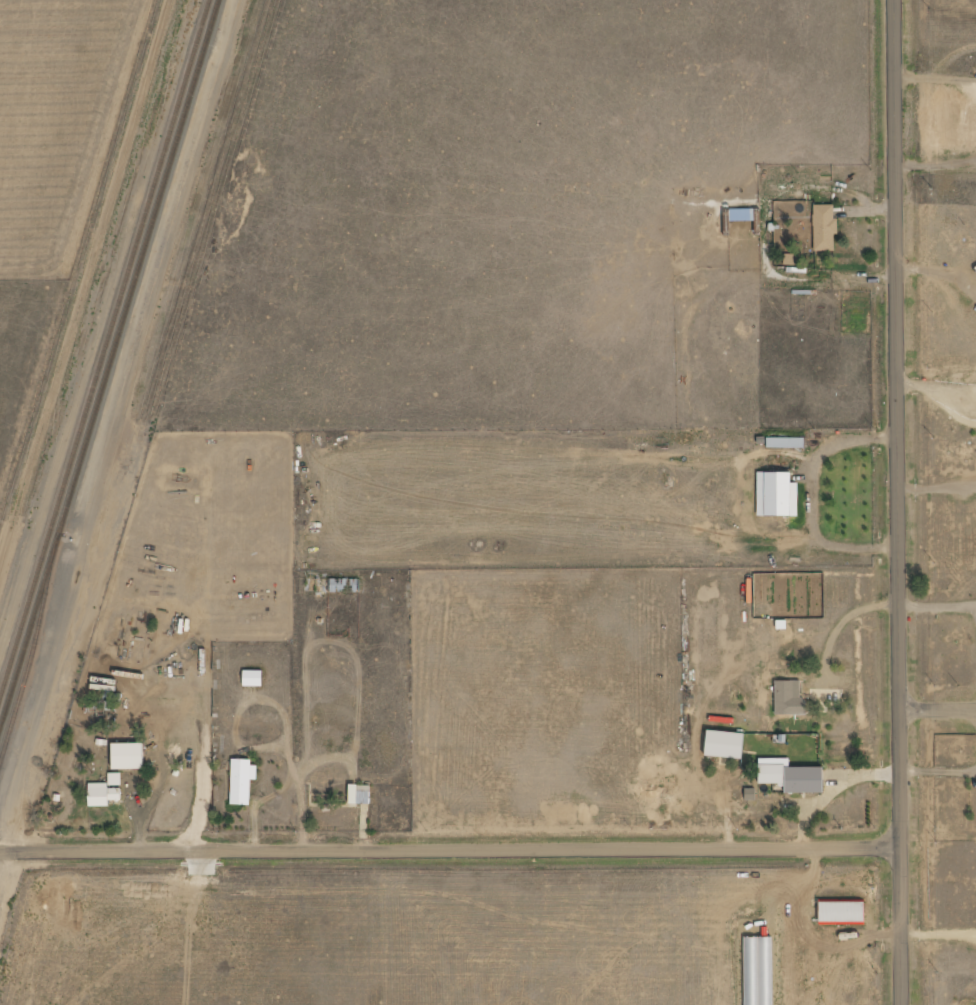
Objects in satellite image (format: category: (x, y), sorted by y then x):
building: (743, 215)
building: (825, 227)
building: (789, 259)
railway: (105, 351)
railway: (110, 369)
building: (785, 443)
building: (777, 495)
road: (898, 502)
railway: (28, 674)
building: (254, 678)
building: (790, 698)
road: (938, 707)
building: (727, 744)
building: (130, 756)
building: (796, 778)
building: (115, 779)
building: (242, 780)
building: (103, 794)
building: (360, 794)
building: (751, 794)
road: (450, 847)
building: (844, 913)

